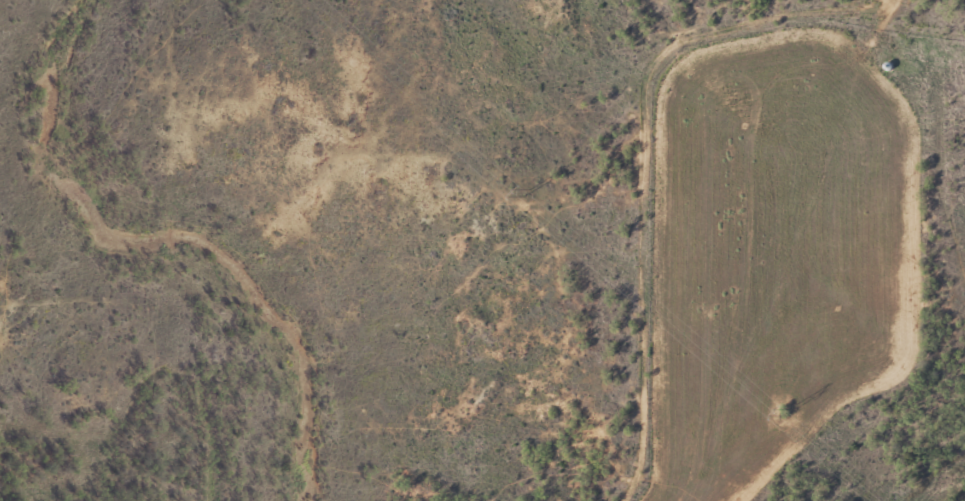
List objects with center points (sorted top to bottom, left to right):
power tower: (529, 193)
power tower: (782, 413)

